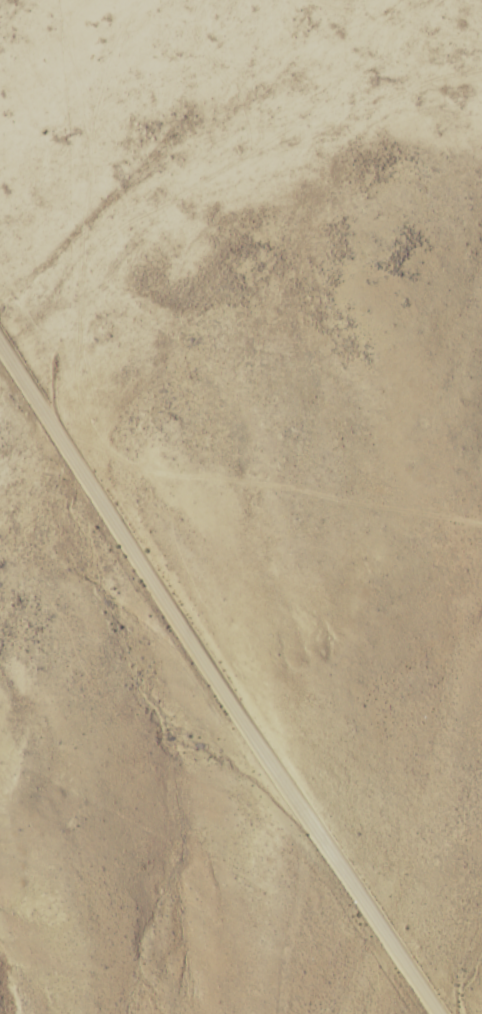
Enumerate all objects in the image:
road: (213, 682)

